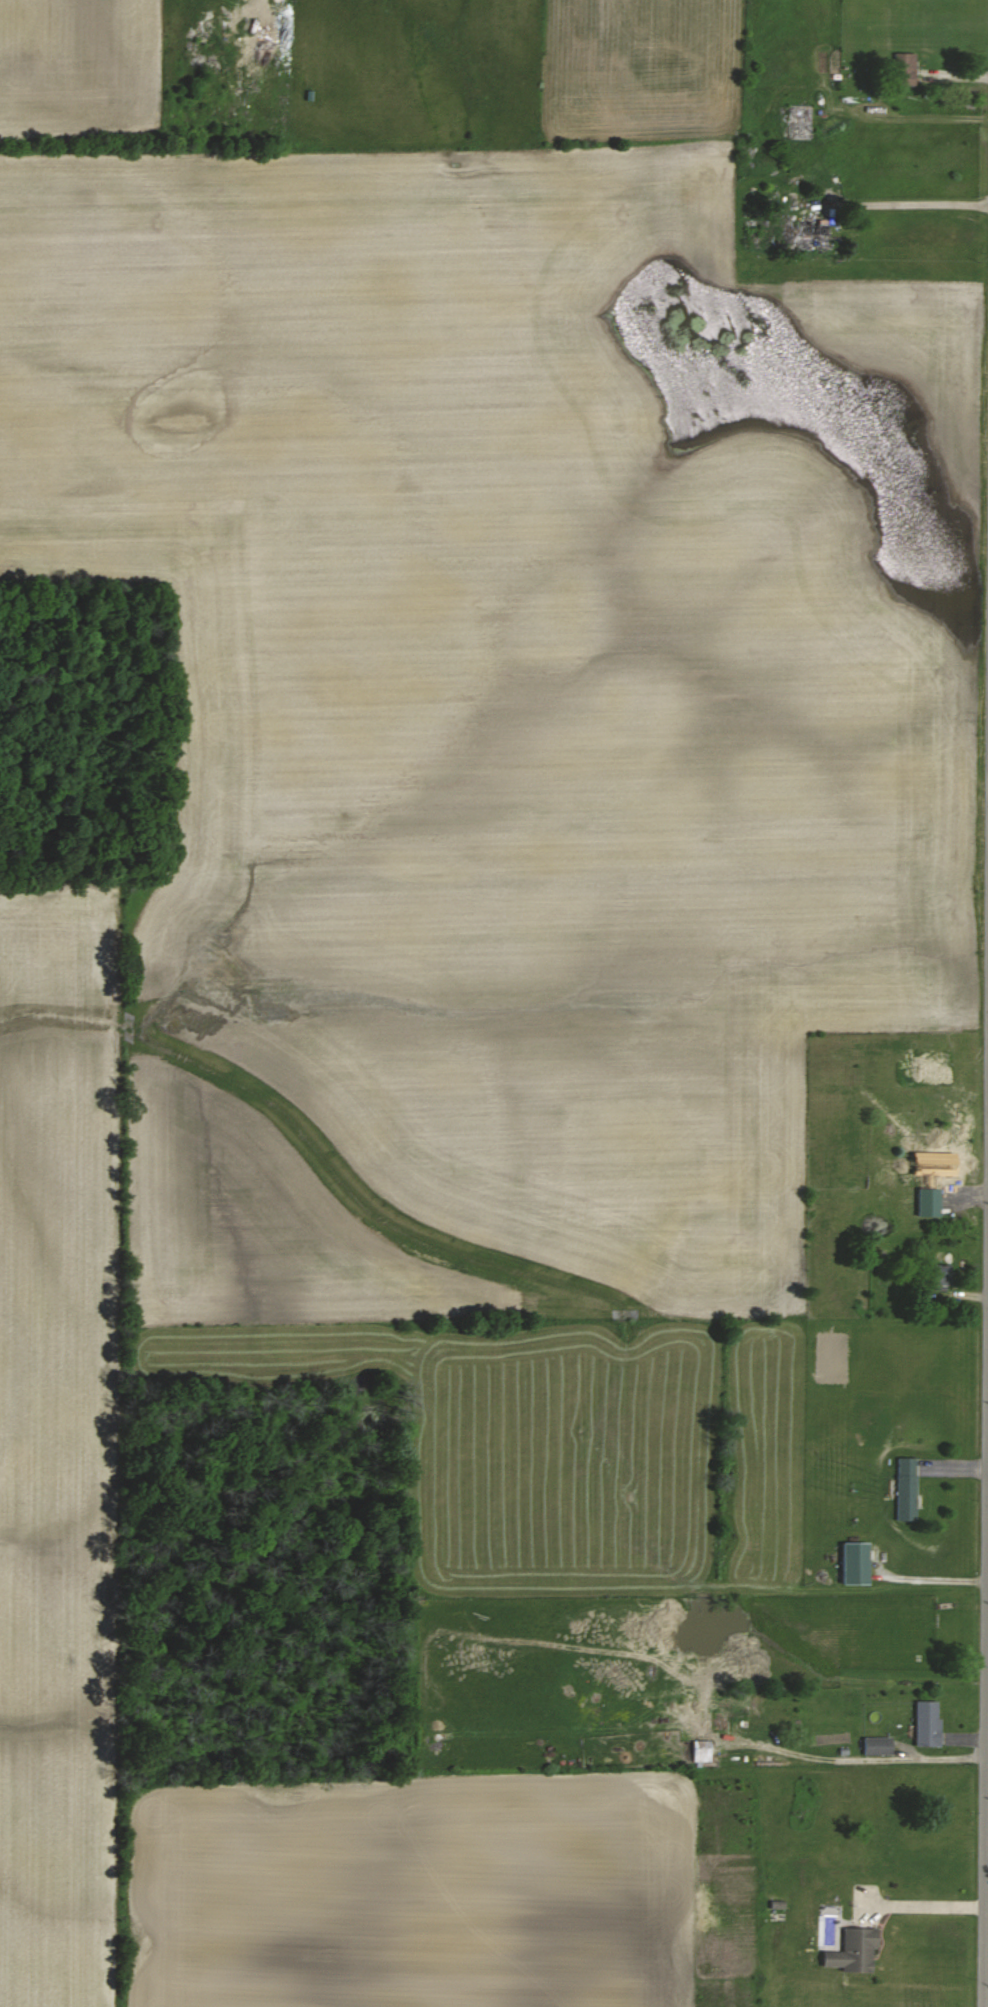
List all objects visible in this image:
building: (904, 69)
road: (922, 117)
road: (908, 204)
building: (942, 1164)
building: (927, 1202)
building: (939, 1274)
building: (905, 1488)
building: (853, 1561)
road: (987, 1577)
road: (924, 1580)
road: (985, 1719)
building: (926, 1722)
building: (876, 1745)
road: (851, 1761)
road: (986, 1863)
road: (921, 1907)
building: (852, 1950)

